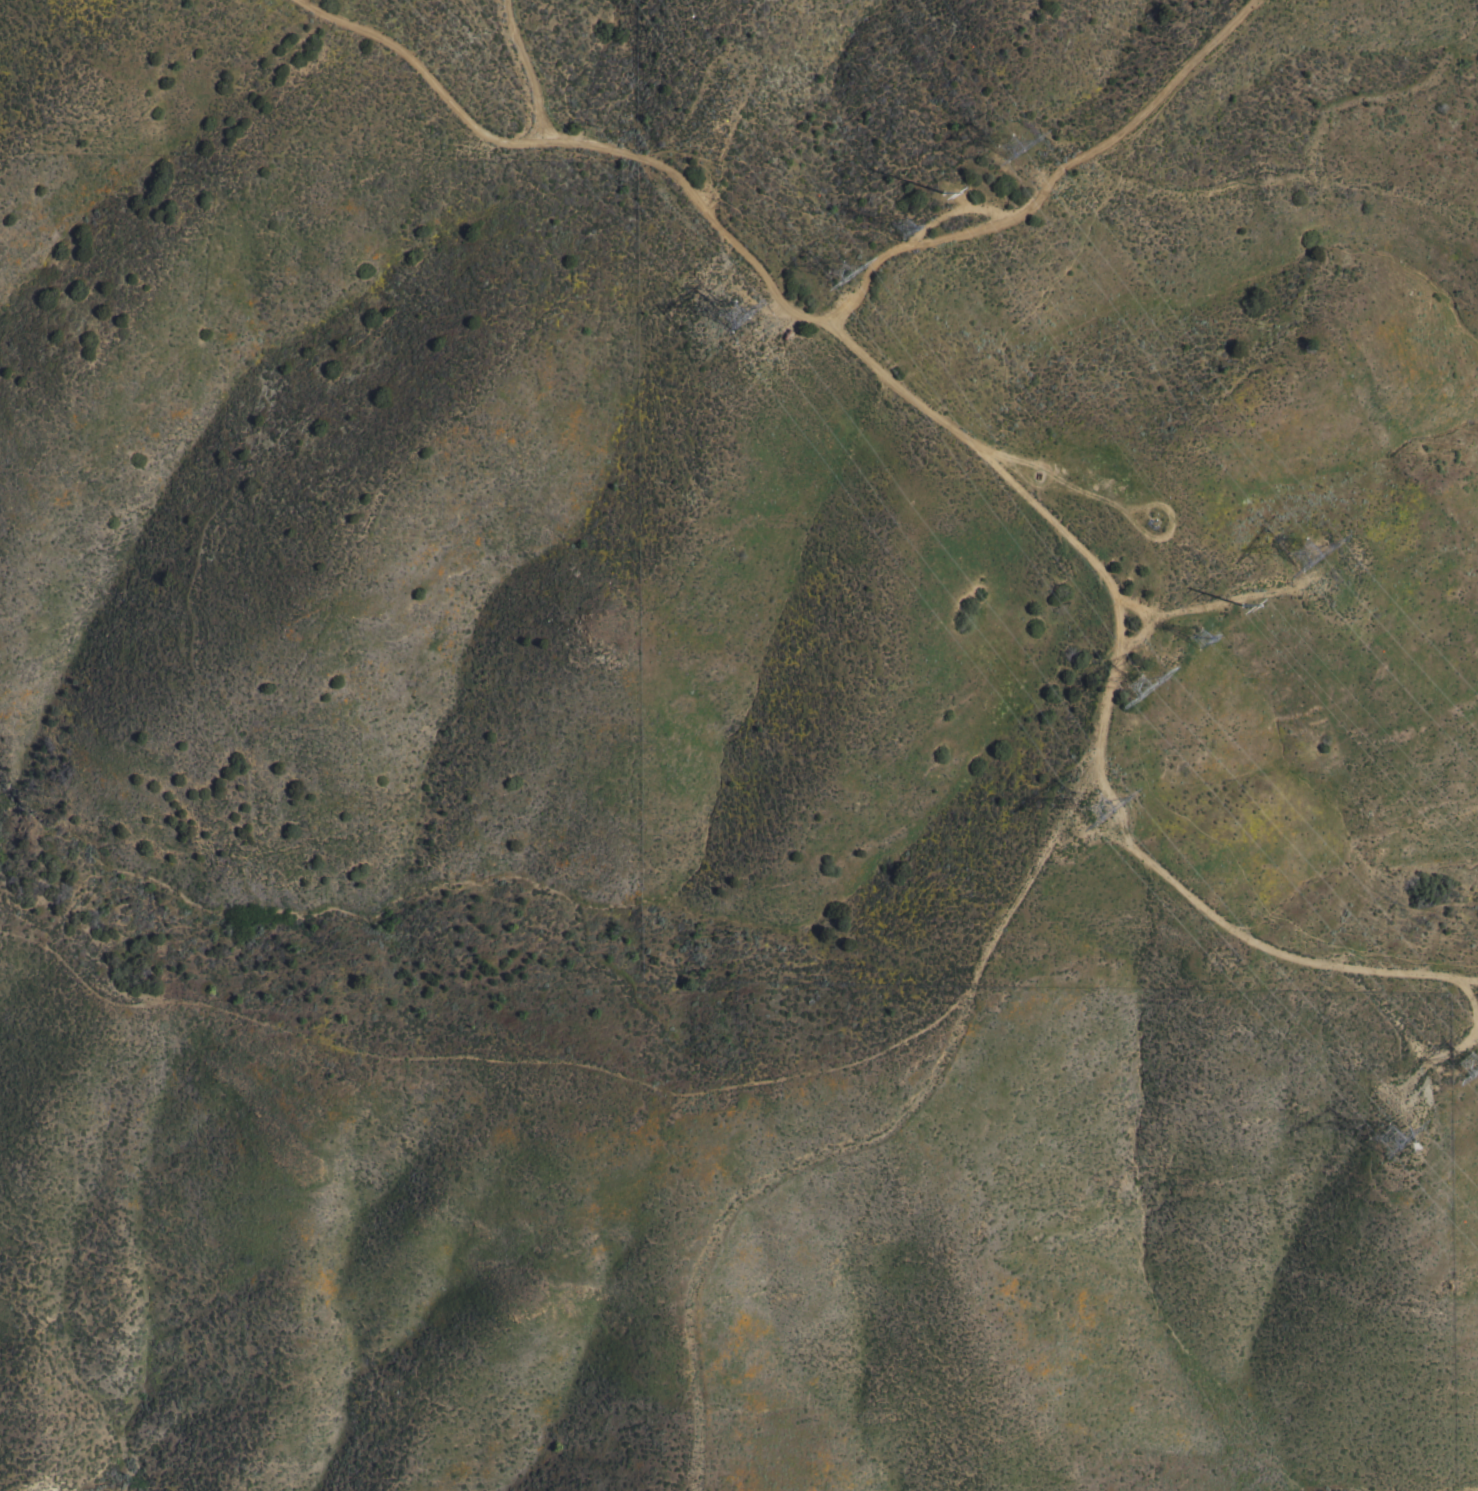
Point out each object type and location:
power tower: (1004, 150)
power tower: (945, 196)
power tower: (904, 233)
power tower: (833, 273)
power tower: (732, 316)
power tower: (1301, 556)
power tower: (1246, 605)
power tower: (1202, 640)
power tower: (1132, 690)
road: (1317, 785)
power tower: (1108, 813)
power tower: (1463, 1066)
power tower: (1393, 1144)

